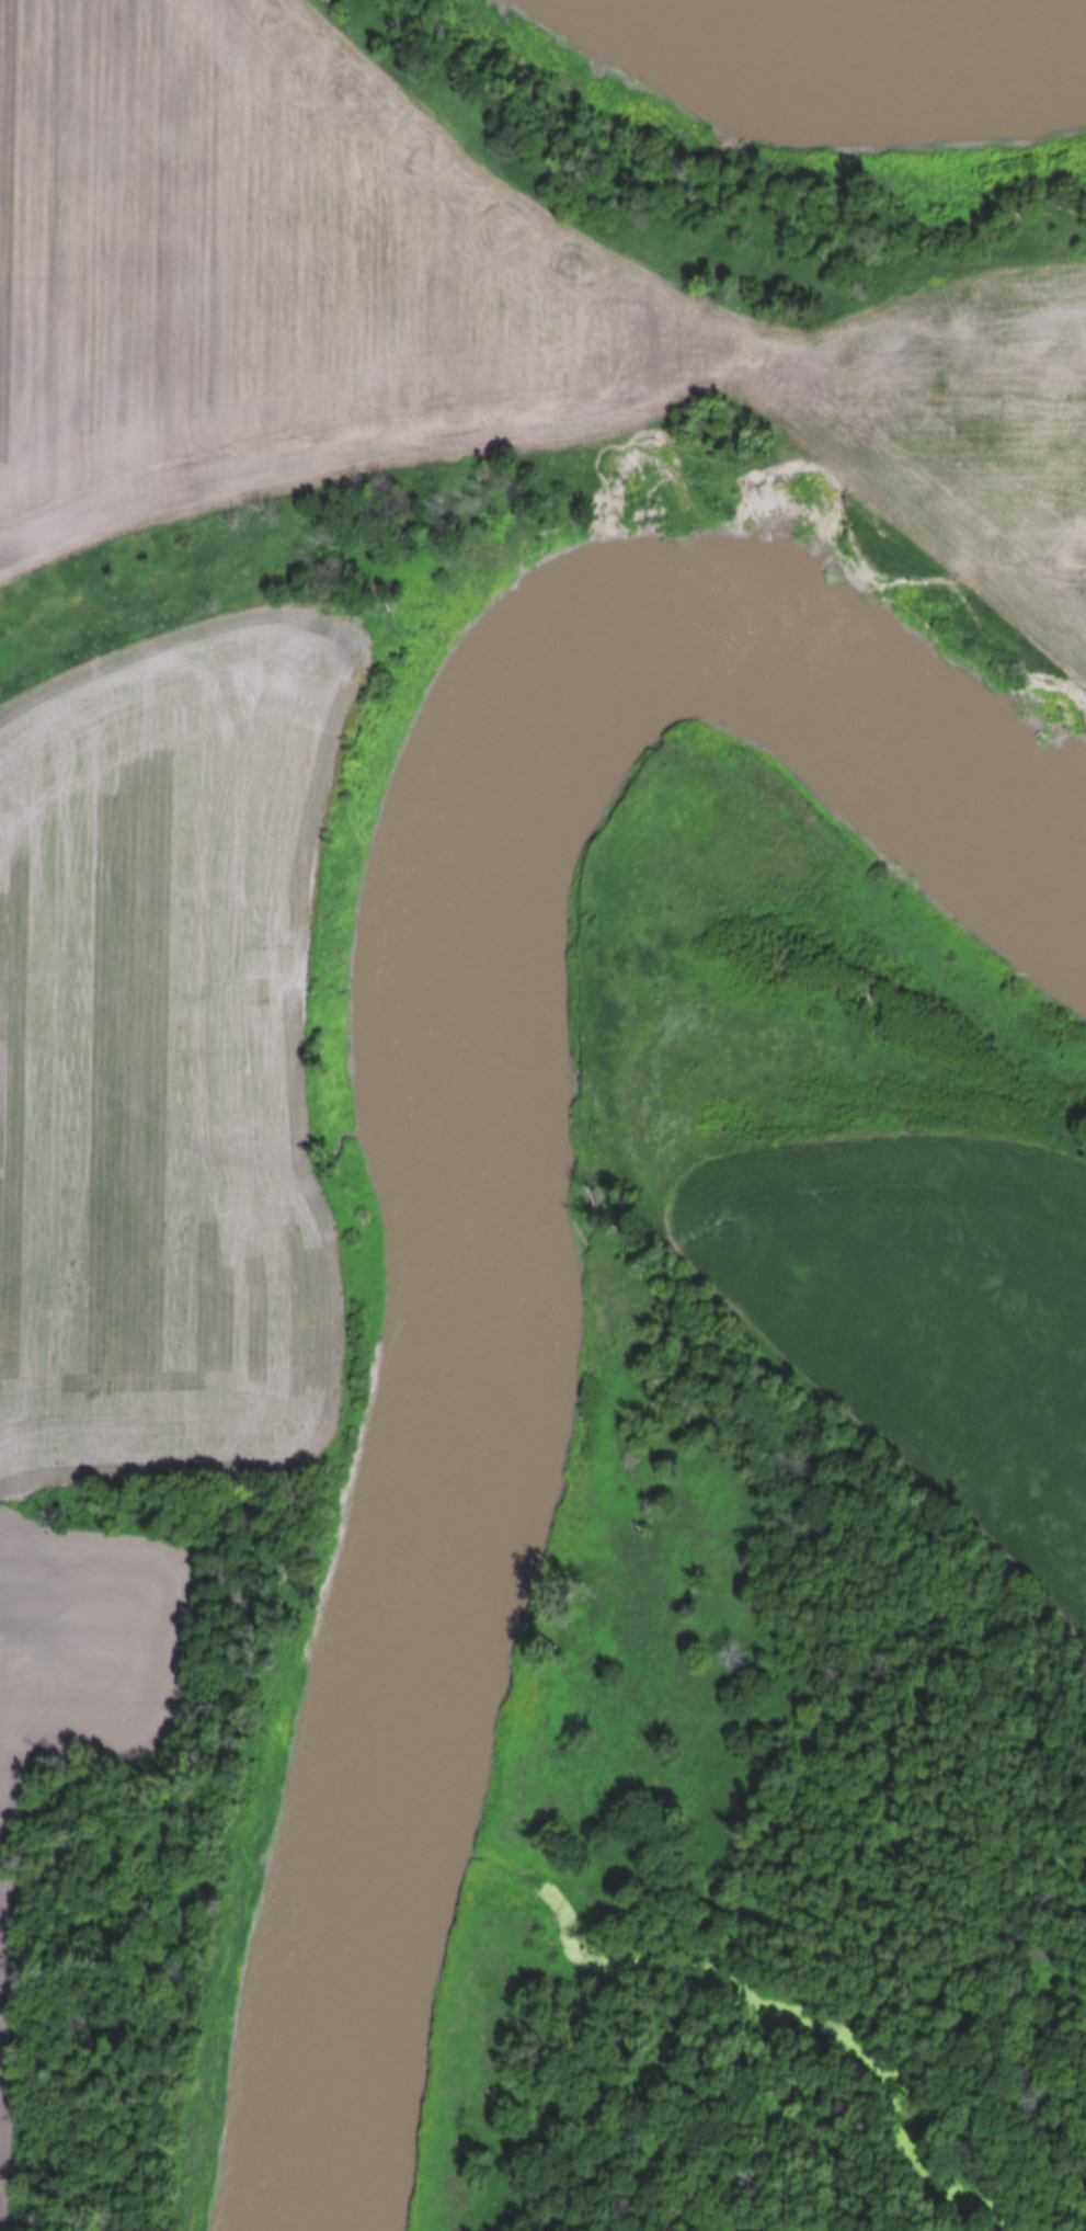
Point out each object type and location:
river: (876, 55)
river: (482, 1140)

